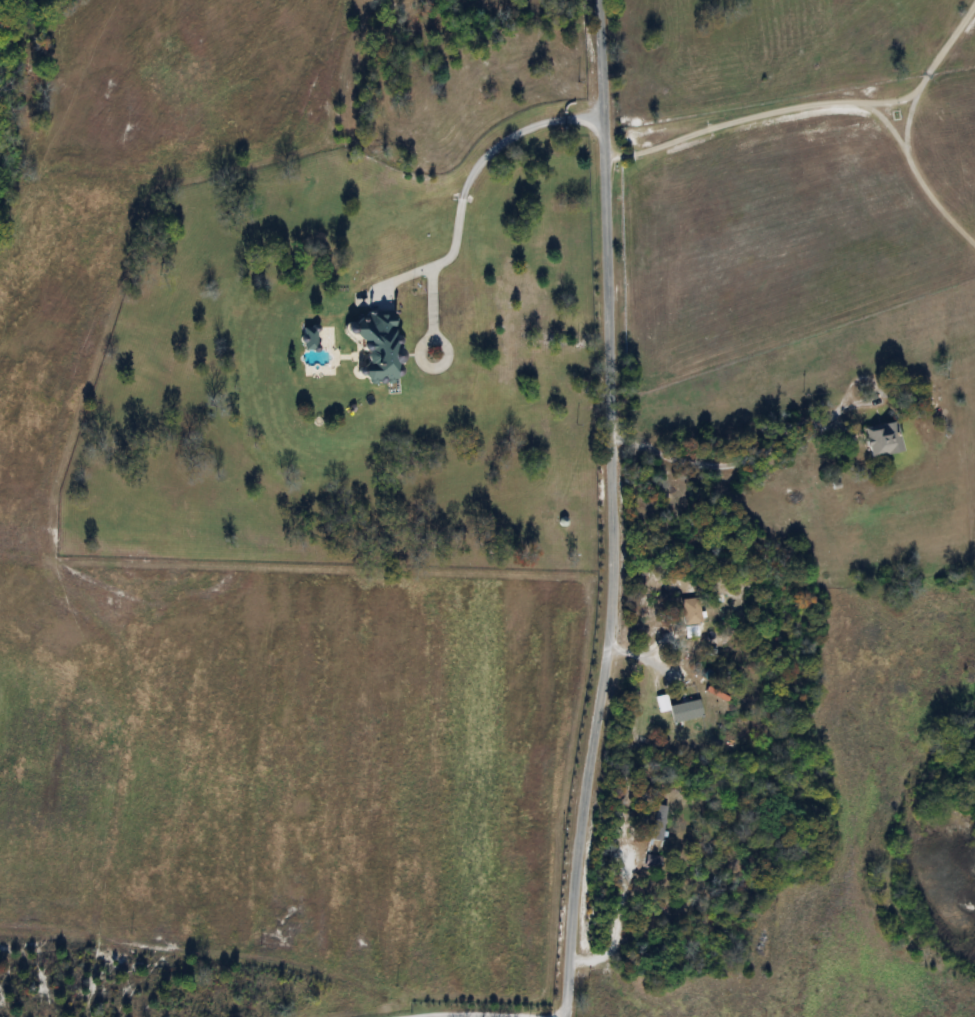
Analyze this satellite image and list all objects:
road: (806, 103)
road: (908, 115)
road: (473, 168)
road: (915, 173)
building: (376, 345)
road: (412, 345)
building: (882, 439)
road: (784, 445)
road: (613, 509)
building: (689, 611)
building: (681, 719)
building: (657, 827)
road: (476, 1014)
road: (455, 1015)
road: (478, 1015)

